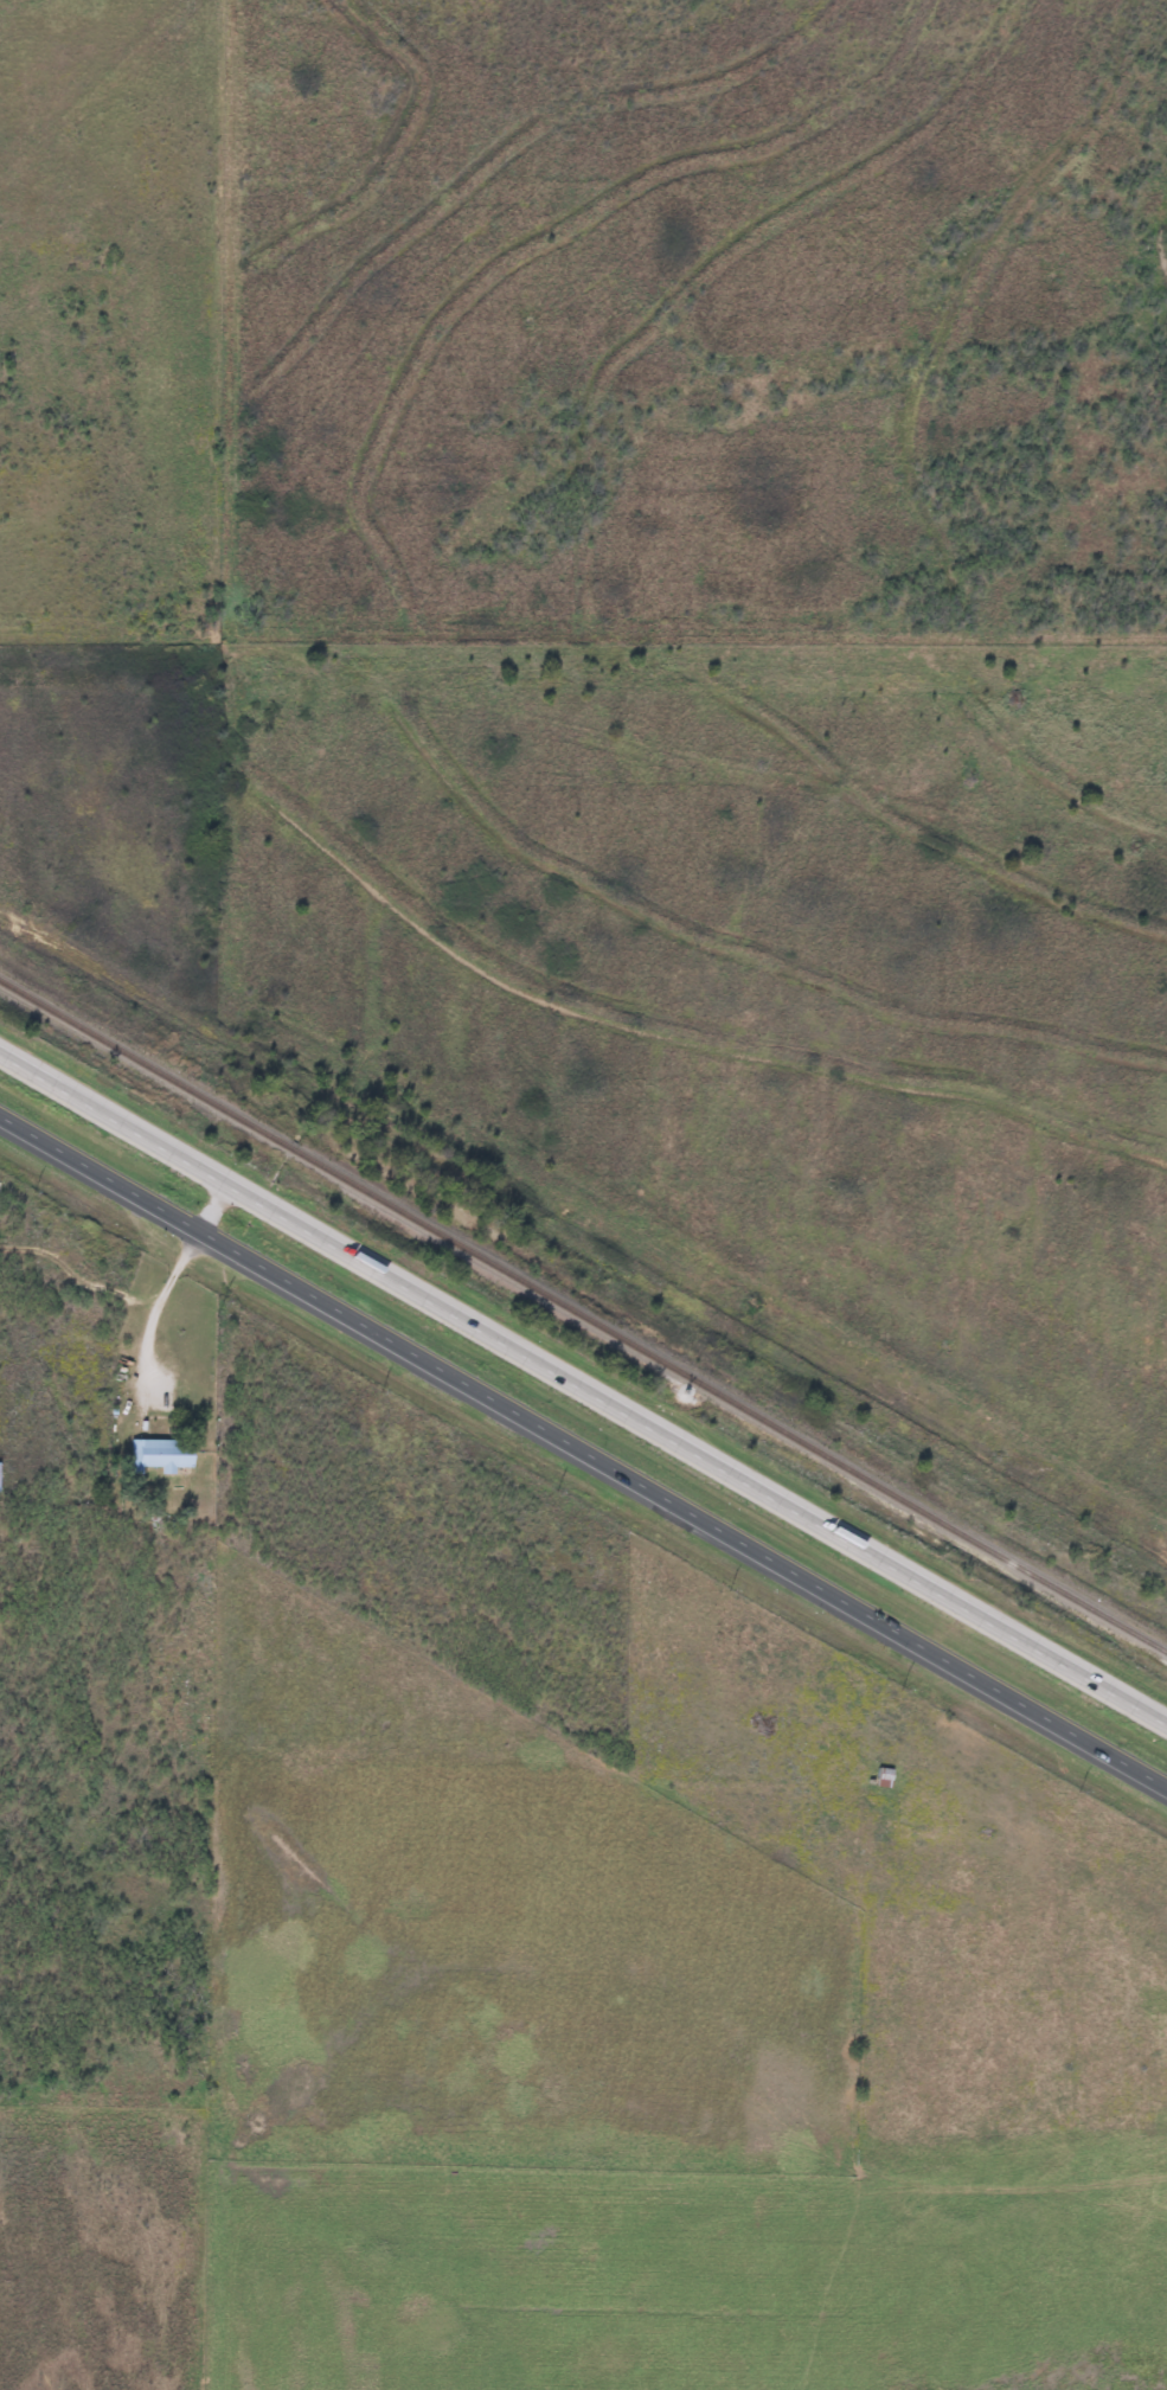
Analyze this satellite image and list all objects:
railway: (582, 1319)
road: (583, 1391)
road: (583, 1452)
building: (163, 1455)
building: (881, 1779)

